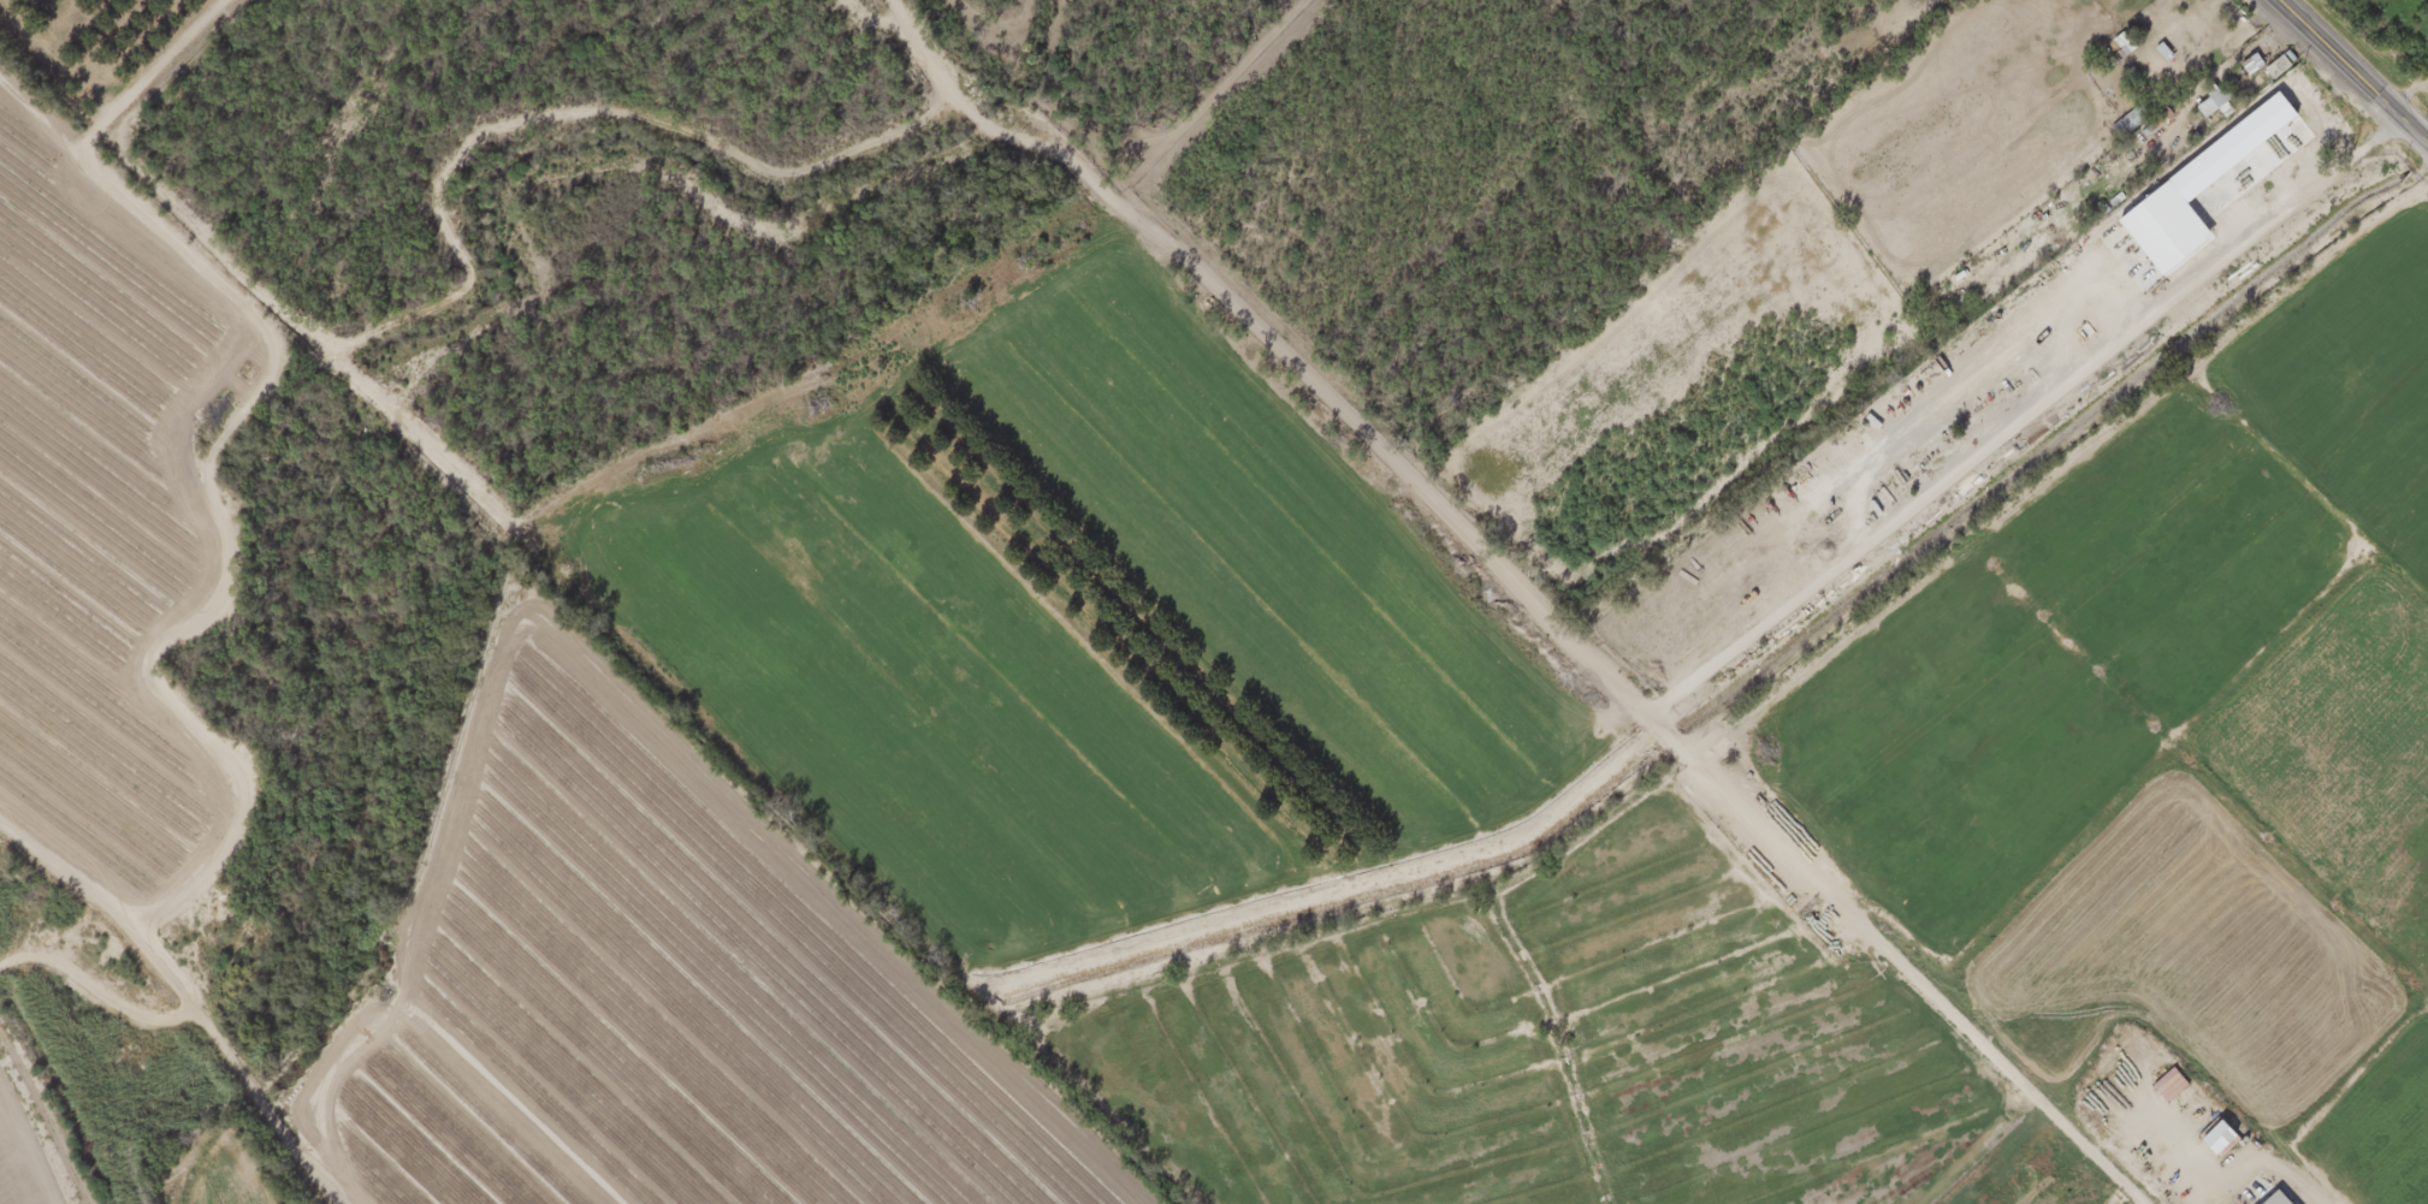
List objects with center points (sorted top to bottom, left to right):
road: (1753, 10)
building: (2110, 51)
road: (168, 61)
building: (2246, 65)
building: (2272, 69)
road: (2351, 72)
building: (2126, 121)
road: (64, 955)
road: (178, 1003)
building: (2270, 1199)

